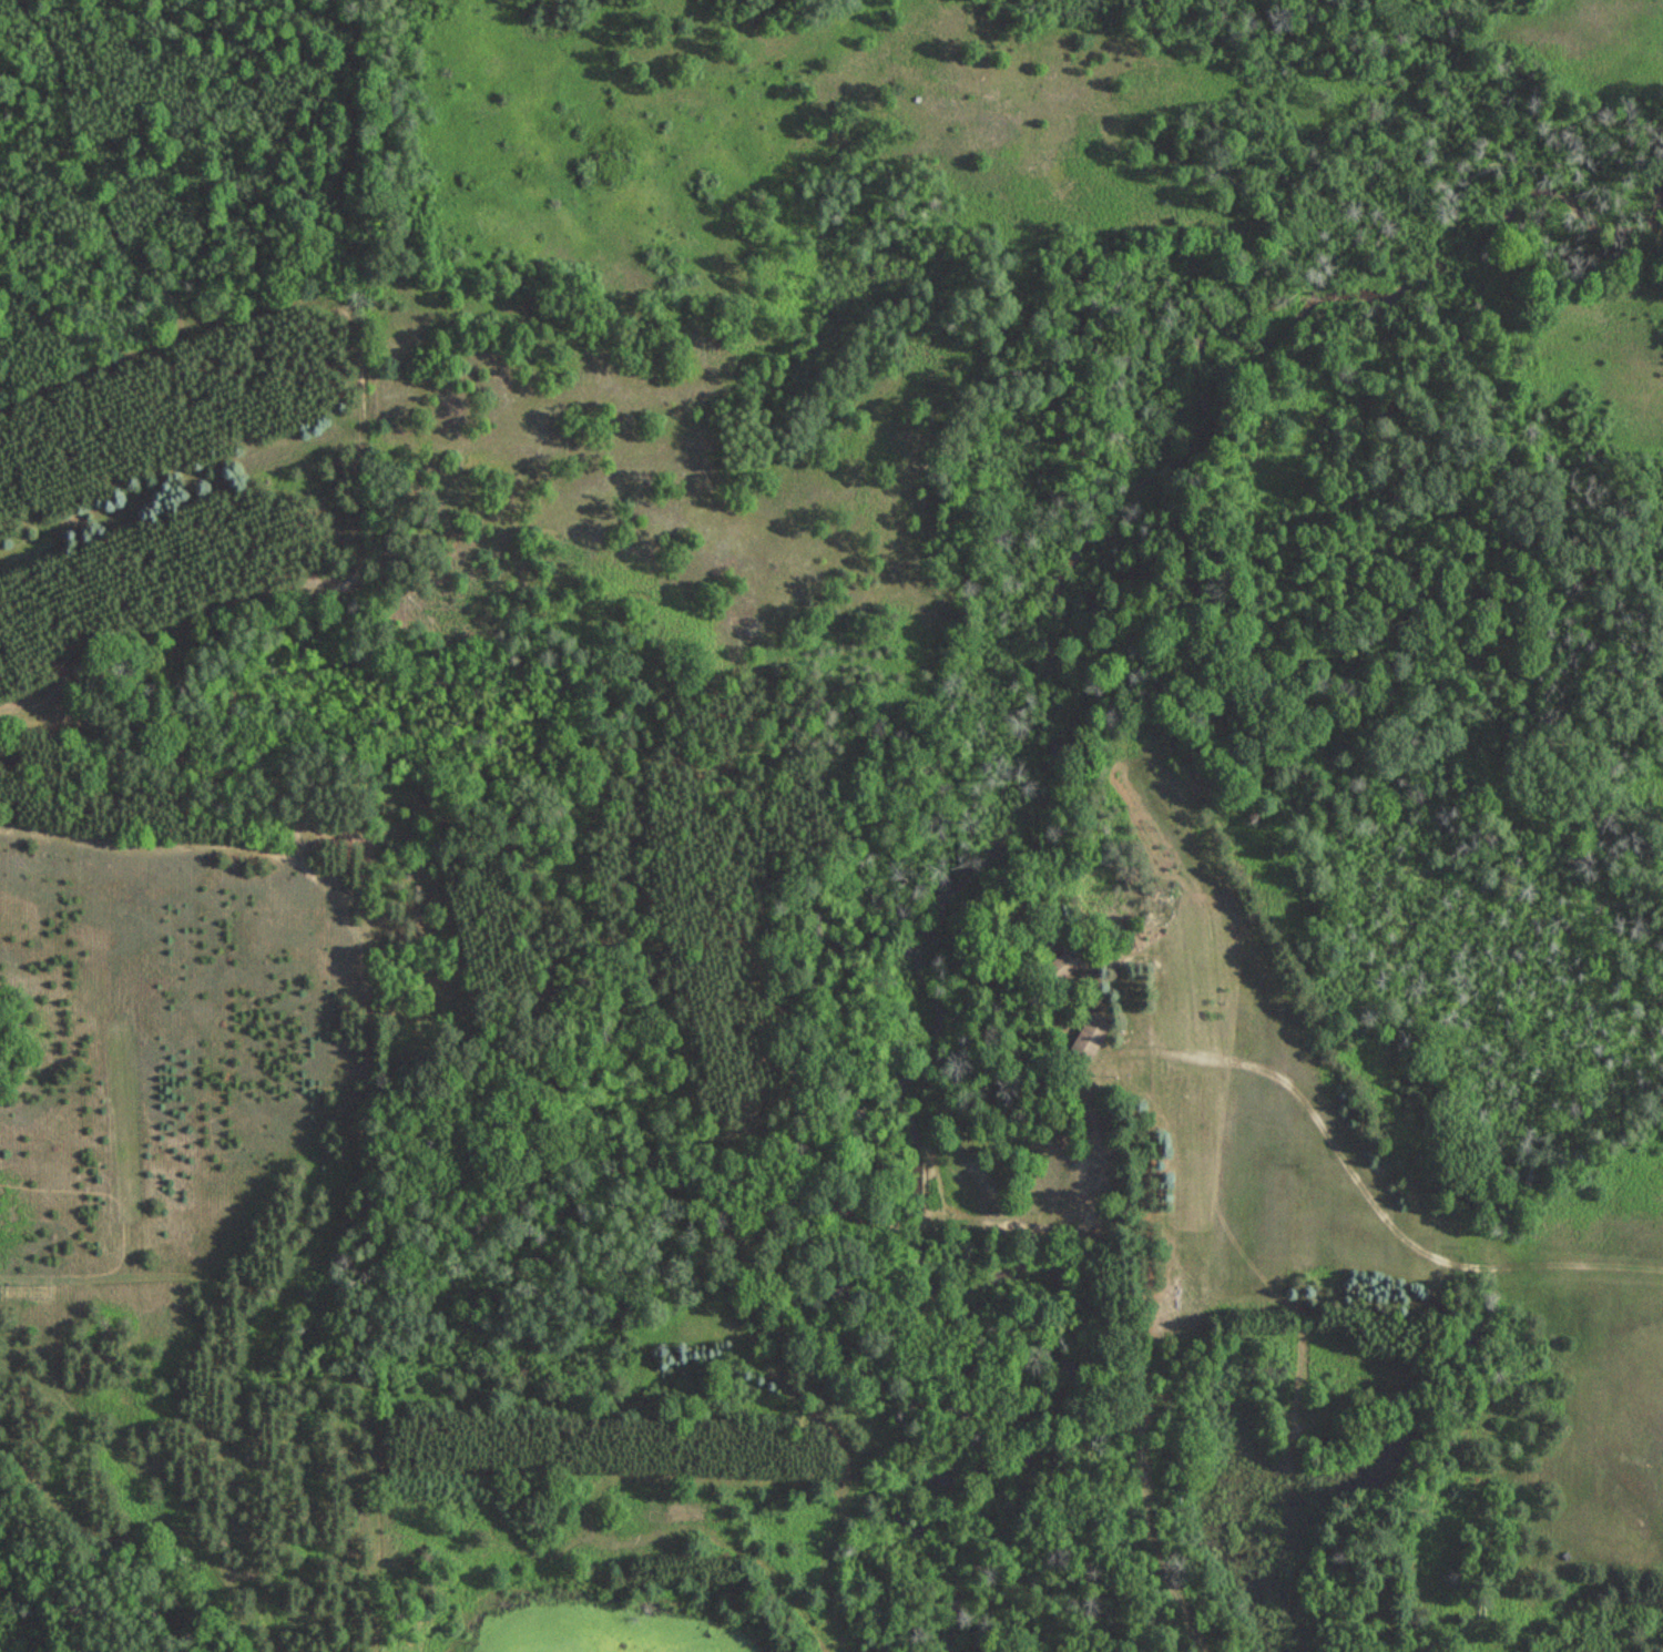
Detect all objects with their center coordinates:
road: (1128, 1353)

